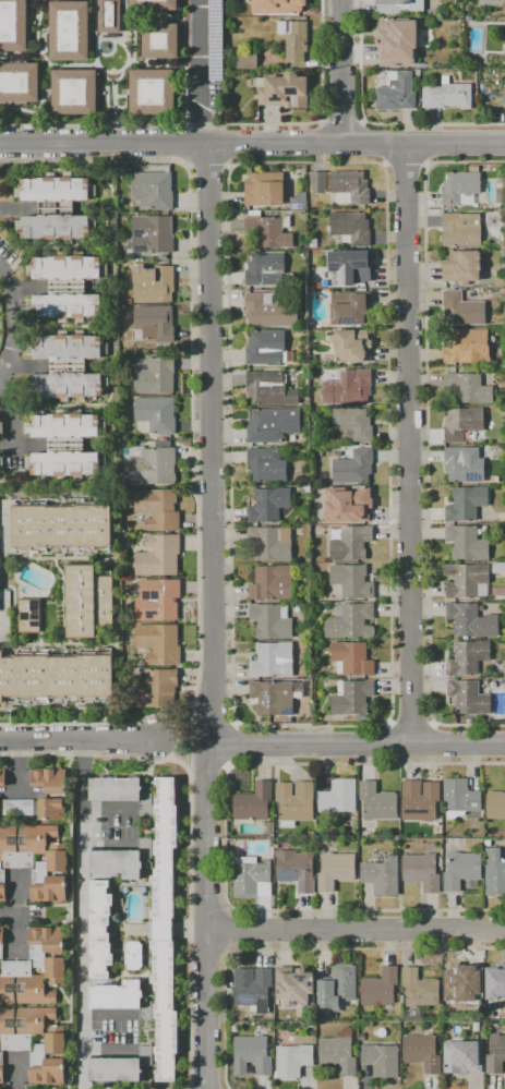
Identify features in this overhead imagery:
building: (154, 5)
building: (399, 5)
building: (287, 7)
building: (109, 16)
building: (13, 25)
building: (69, 32)
building: (293, 40)
building: (160, 41)
building: (385, 43)
building: (504, 55)
building: (245, 59)
road: (197, 71)
road: (339, 71)
building: (19, 83)
building: (152, 92)
building: (282, 92)
building: (74, 93)
building: (396, 93)
building: (447, 95)
building: (503, 99)
road: (373, 123)
road: (340, 124)
road: (219, 125)
road: (252, 144)
road: (207, 160)
road: (405, 160)
building: (317, 182)
building: (350, 187)
building: (461, 187)
building: (55, 189)
building: (264, 189)
building: (154, 190)
building: (298, 201)
building: (56, 208)
building: (56, 228)
building: (351, 228)
building: (269, 230)
building: (460, 230)
building: (151, 234)
building: (461, 266)
building: (67, 267)
building: (347, 268)
building: (265, 269)
building: (154, 283)
building: (67, 287)
building: (65, 306)
building: (461, 310)
building: (269, 311)
building: (352, 311)
building: (154, 324)
building: (68, 347)
building: (352, 347)
building: (467, 347)
road: (191, 348)
building: (267, 348)
road: (7, 362)
building: (68, 366)
building: (154, 376)
road: (1, 384)
building: (69, 386)
building: (353, 388)
building: (469, 388)
building: (269, 389)
building: (314, 401)
building: (156, 414)
building: (352, 424)
building: (462, 424)
building: (64, 425)
building: (272, 425)
building: (0, 428)
road: (426, 440)
road: (408, 444)
building: (64, 445)
building: (1, 462)
building: (65, 464)
building: (152, 464)
building: (464, 464)
building: (266, 465)
building: (353, 468)
building: (305, 483)
building: (308, 489)
building: (351, 504)
building: (466, 504)
building: (268, 505)
building: (158, 509)
building: (62, 525)
building: (349, 542)
building: (270, 543)
building: (466, 543)
building: (158, 556)
building: (498, 568)
building: (352, 581)
building: (467, 581)
building: (272, 583)
building: (157, 600)
building: (88, 601)
building: (29, 616)
road: (213, 616)
building: (272, 621)
building: (350, 621)
building: (471, 621)
building: (159, 644)
building: (304, 649)
building: (468, 657)
building: (351, 658)
building: (272, 661)
building: (58, 677)
building: (156, 689)
building: (275, 698)
building: (351, 698)
building: (468, 698)
building: (361, 718)
road: (388, 721)
road: (183, 722)
road: (411, 722)
road: (89, 724)
road: (212, 724)
road: (79, 739)
road: (357, 743)
road: (390, 743)
road: (430, 743)
road: (230, 746)
road: (190, 747)
road: (84, 754)
road: (170, 755)
road: (207, 766)
road: (16, 767)
road: (80, 774)
building: (2, 778)
building: (49, 779)
building: (115, 789)
building: (338, 797)
building: (459, 798)
building: (419, 800)
building: (253, 802)
building: (294, 802)
building: (377, 802)
building: (495, 806)
building: (36, 809)
road: (104, 810)
road: (80, 826)
building: (269, 830)
road: (225, 837)
road: (104, 843)
building: (24, 844)
building: (145, 848)
building: (165, 860)
building: (117, 863)
building: (297, 870)
building: (461, 870)
building: (336, 871)
building: (421, 871)
building: (494, 872)
building: (249, 875)
building: (381, 875)
building: (50, 876)
building: (2, 885)
road: (17, 922)
building: (100, 930)
road: (356, 930)
road: (233, 931)
road: (190, 932)
building: (1, 944)
road: (297, 951)
building: (48, 953)
building: (133, 956)
road: (80, 966)
building: (460, 981)
building: (23, 984)
building: (293, 987)
building: (337, 988)
building: (380, 988)
building: (252, 989)
building: (418, 990)
building: (495, 990)
building: (117, 996)
building: (165, 1011)
building: (488, 1013)
road: (104, 1015)
building: (472, 1026)
building: (23, 1027)
building: (235, 1029)
road: (106, 1050)
building: (339, 1052)
building: (422, 1053)
building: (495, 1054)
building: (252, 1055)
building: (49, 1058)
building: (461, 1058)
building: (381, 1060)
building: (292, 1061)
building: (1, 1068)
building: (116, 1069)
building: (476, 1072)
road: (17, 1074)

